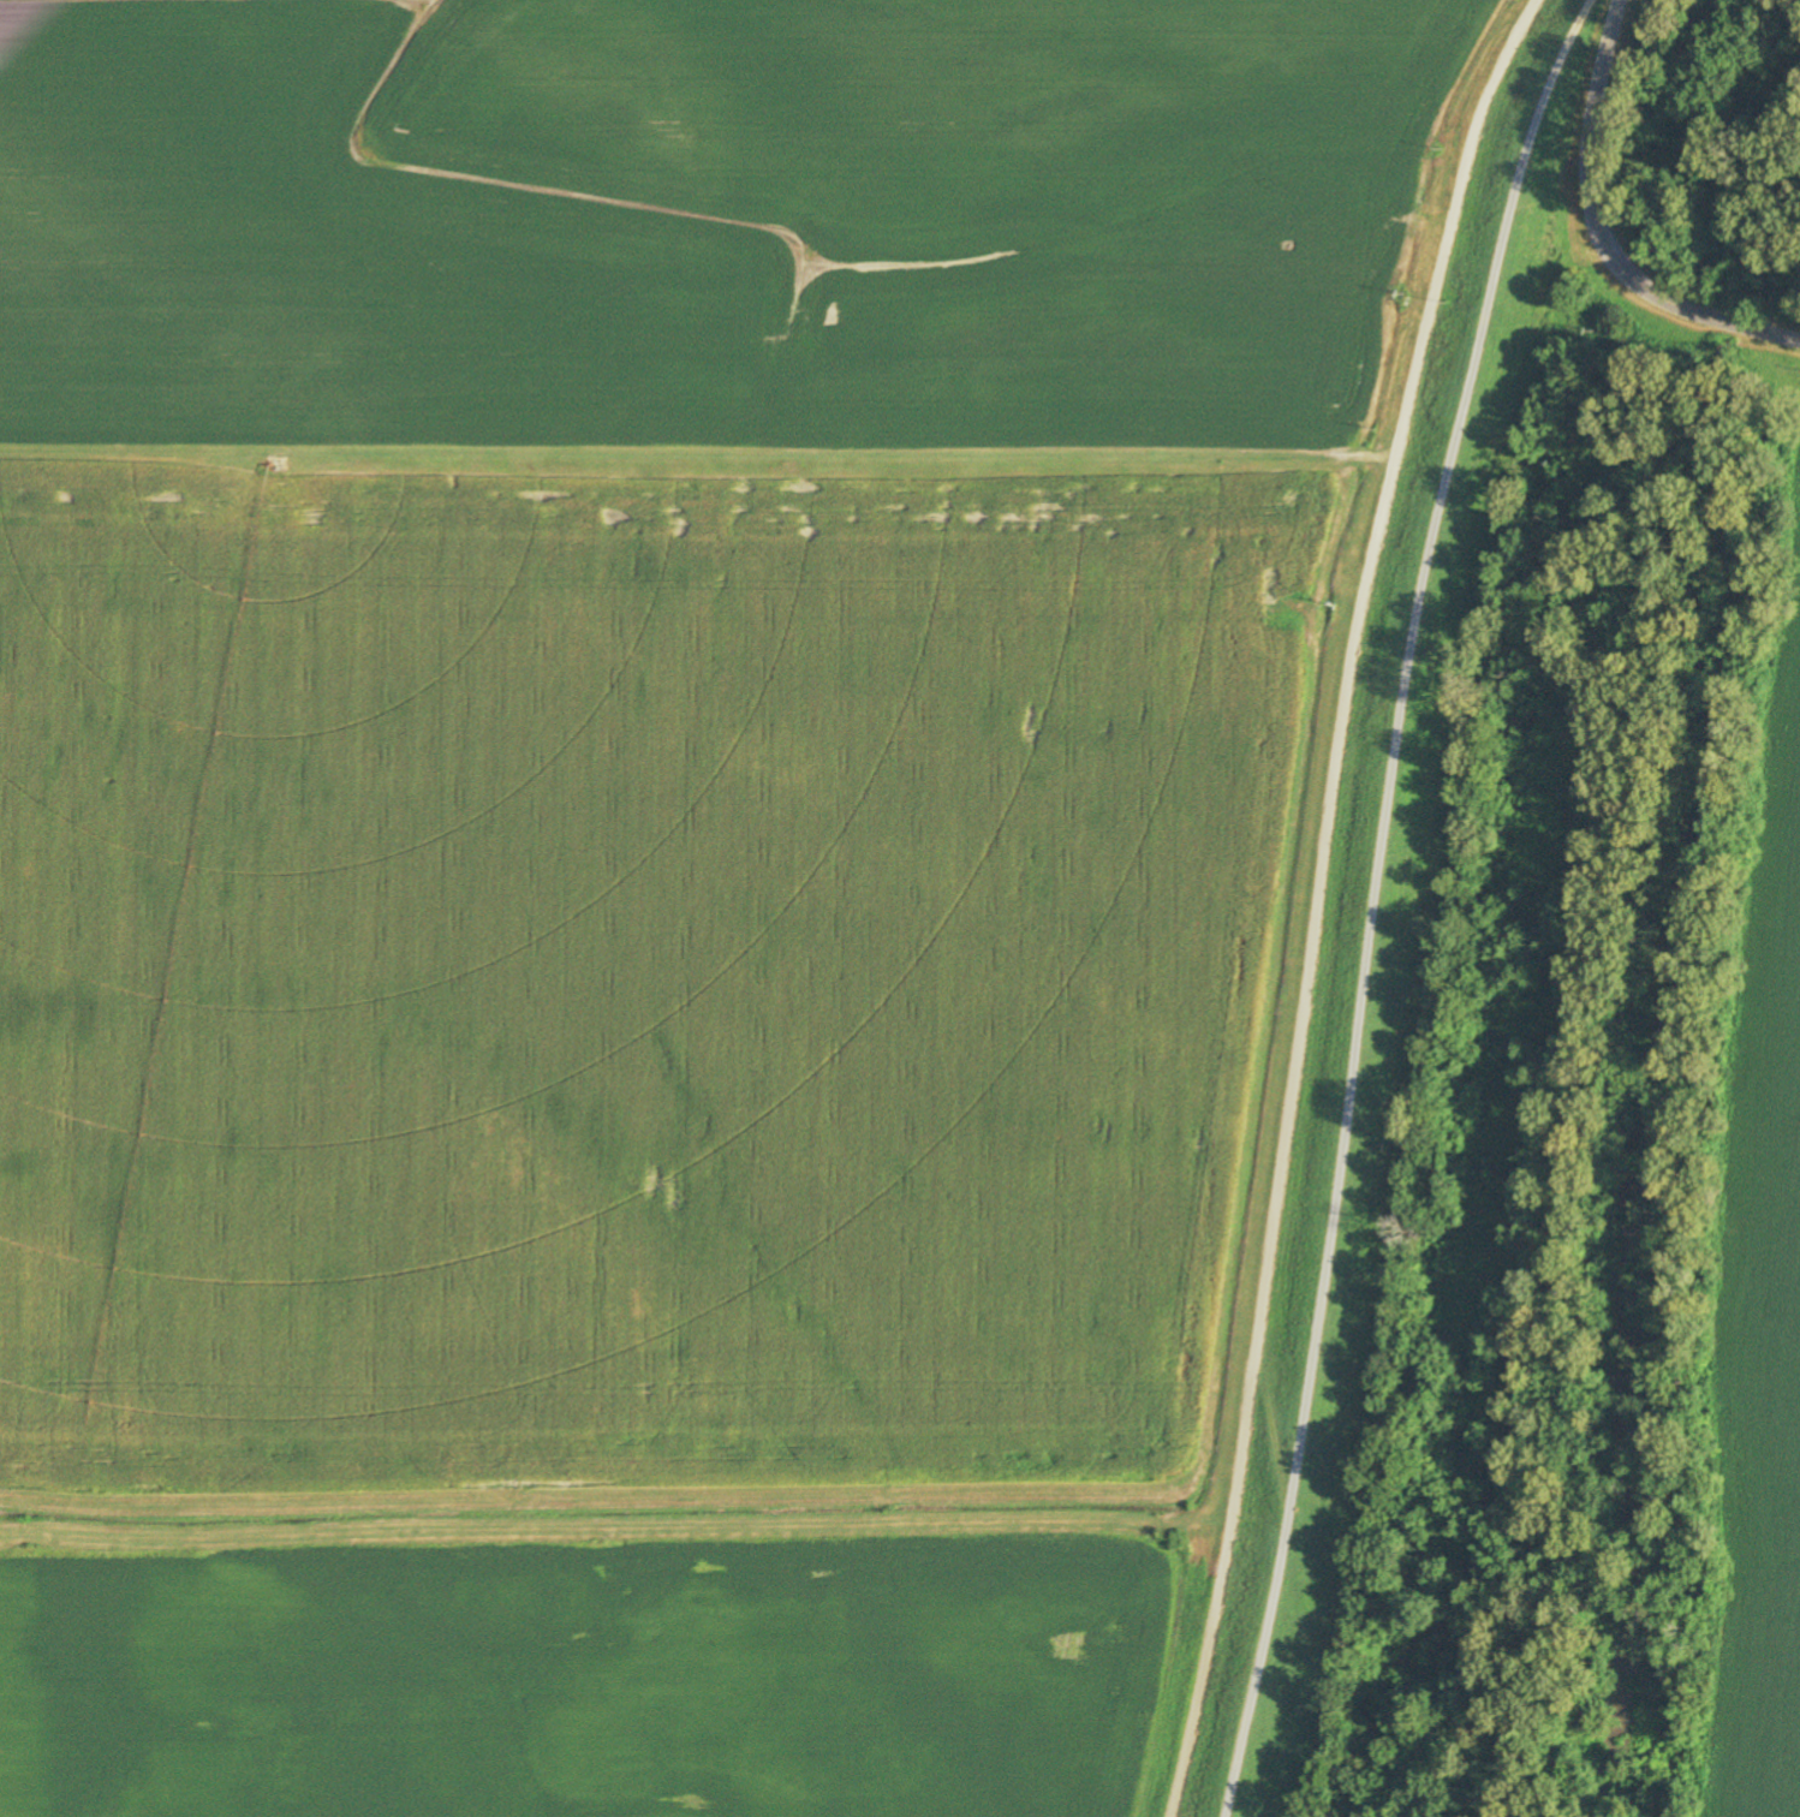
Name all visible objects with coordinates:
road: (1603, 228)
road: (1313, 899)
road: (1383, 900)

